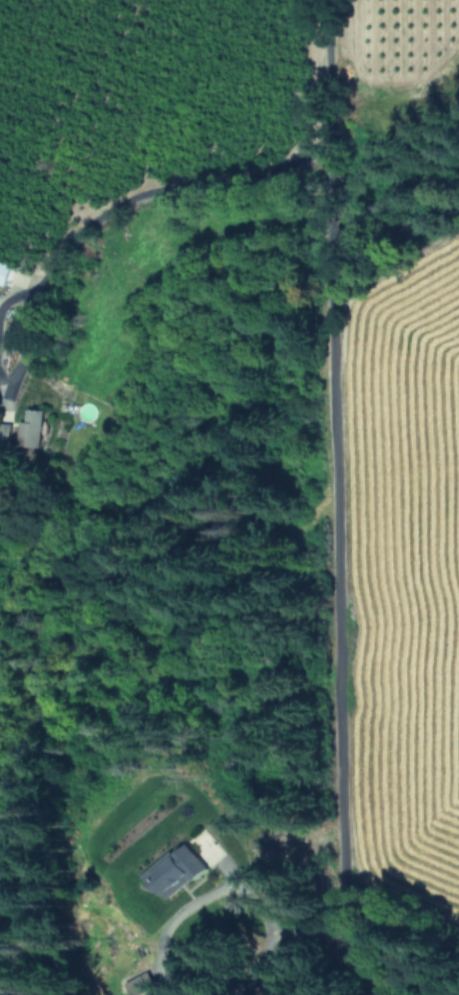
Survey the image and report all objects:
road: (165, 174)
building: (5, 270)
crop: (420, 422)
building: (33, 427)
building: (6, 430)
road: (333, 497)
building: (179, 871)
road: (225, 886)
building: (147, 985)

